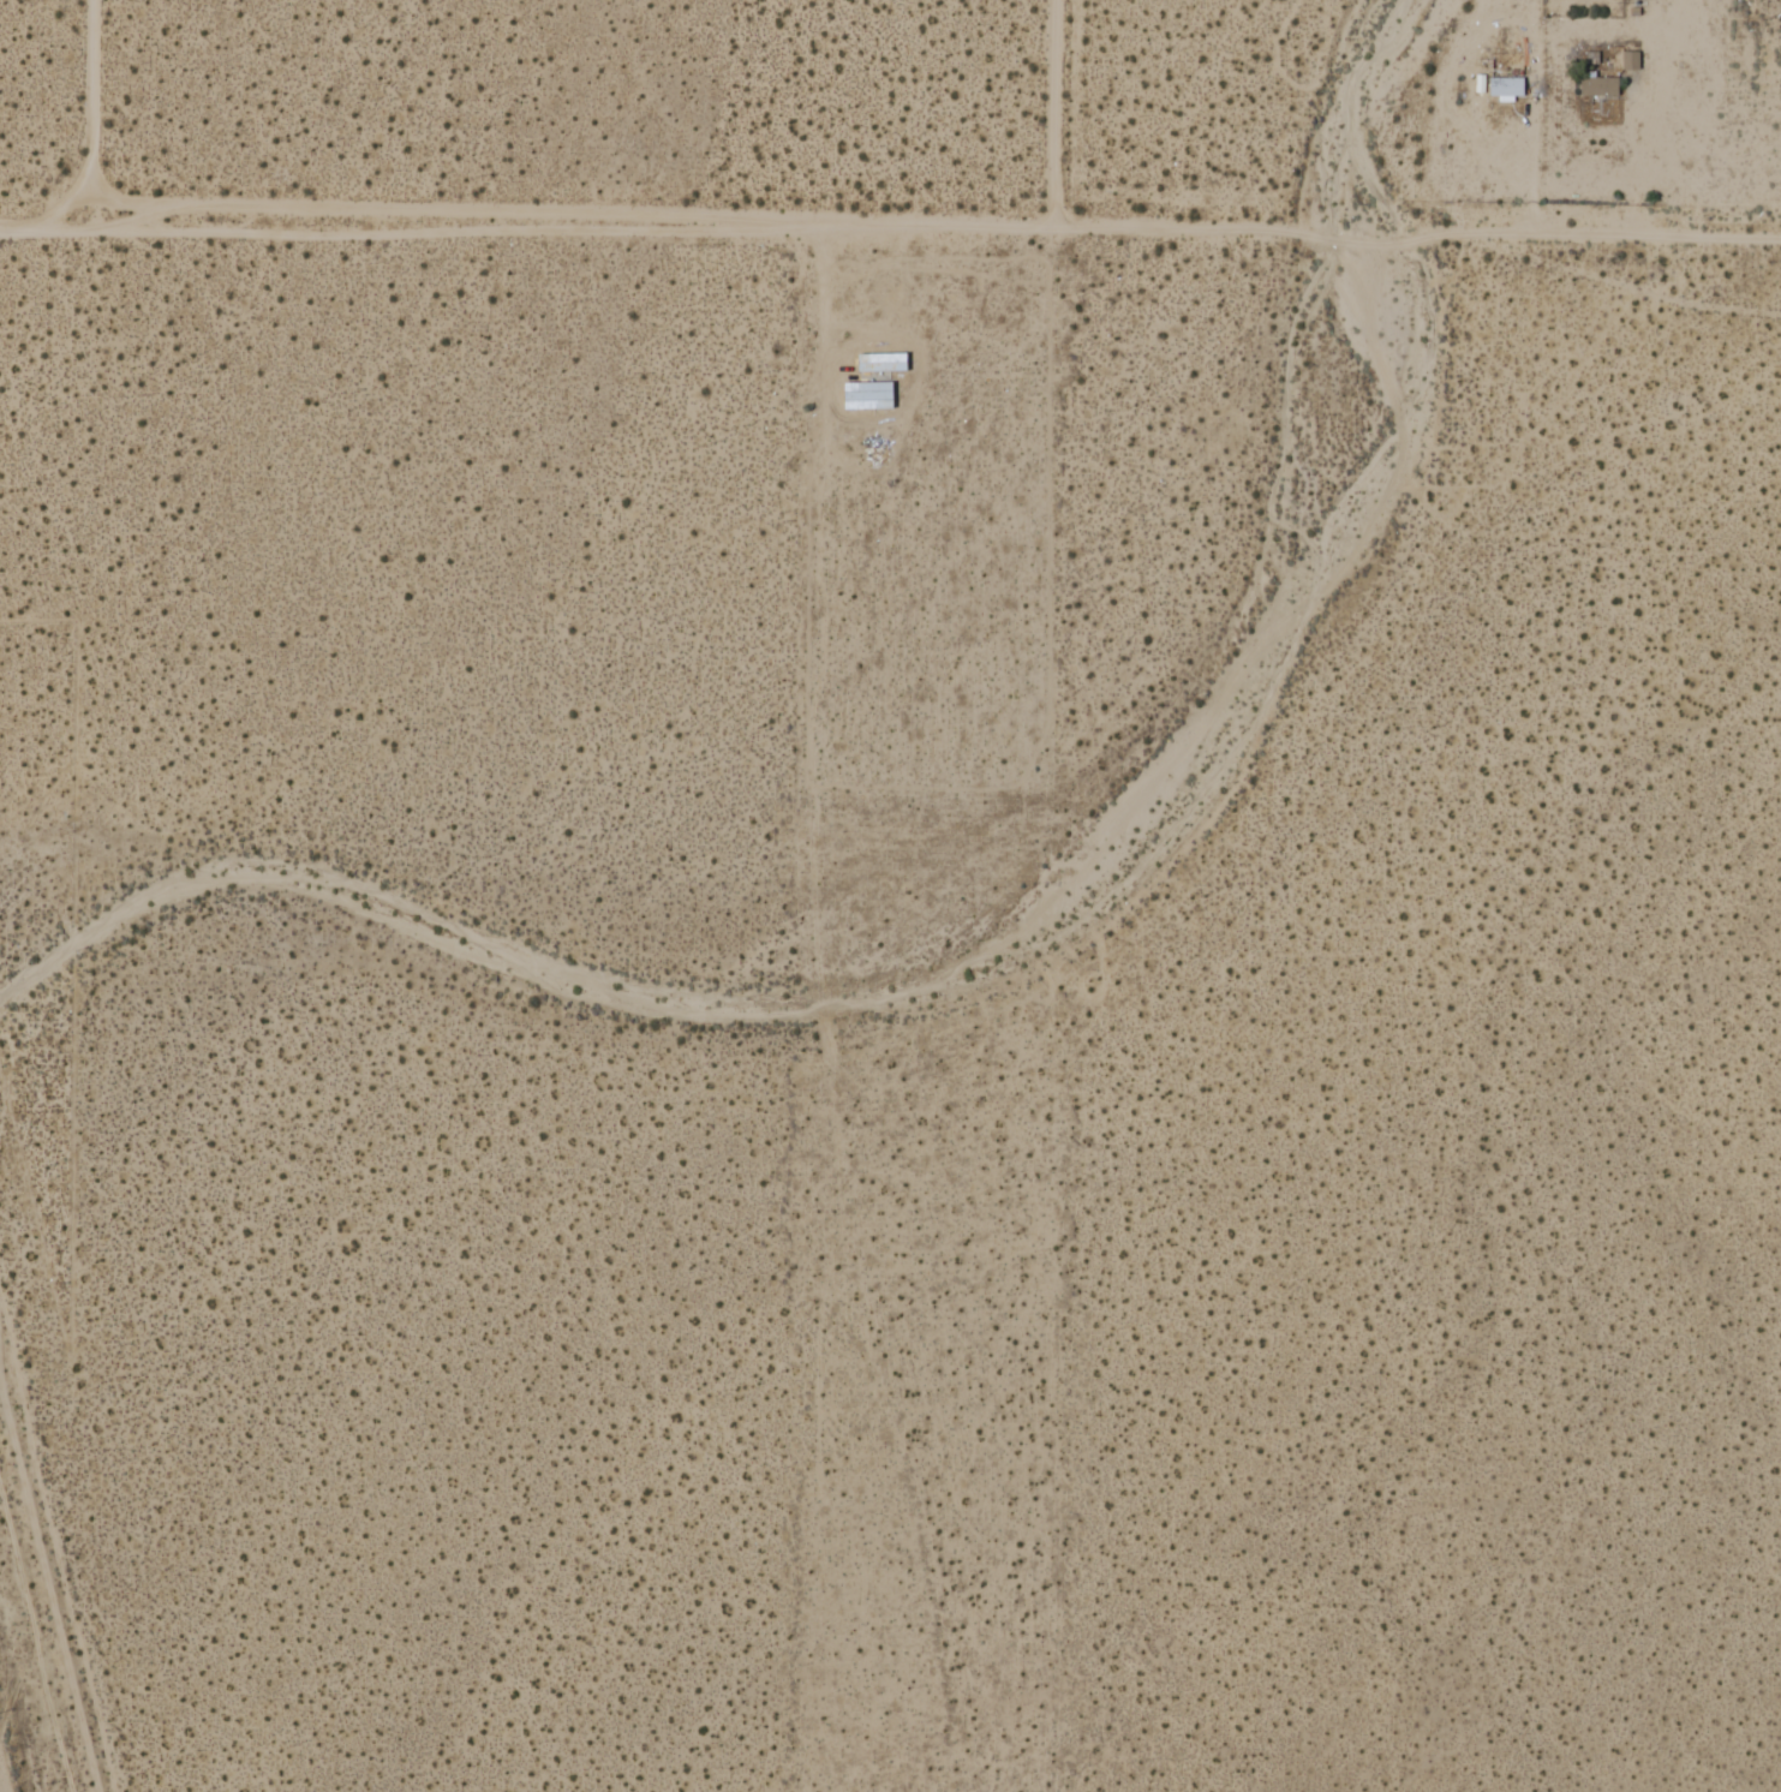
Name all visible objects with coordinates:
building: (1630, 61)
building: (1598, 89)
building: (1506, 90)
road: (94, 102)
road: (1057, 112)
road: (1420, 196)
road: (886, 222)
building: (881, 363)
building: (867, 396)

